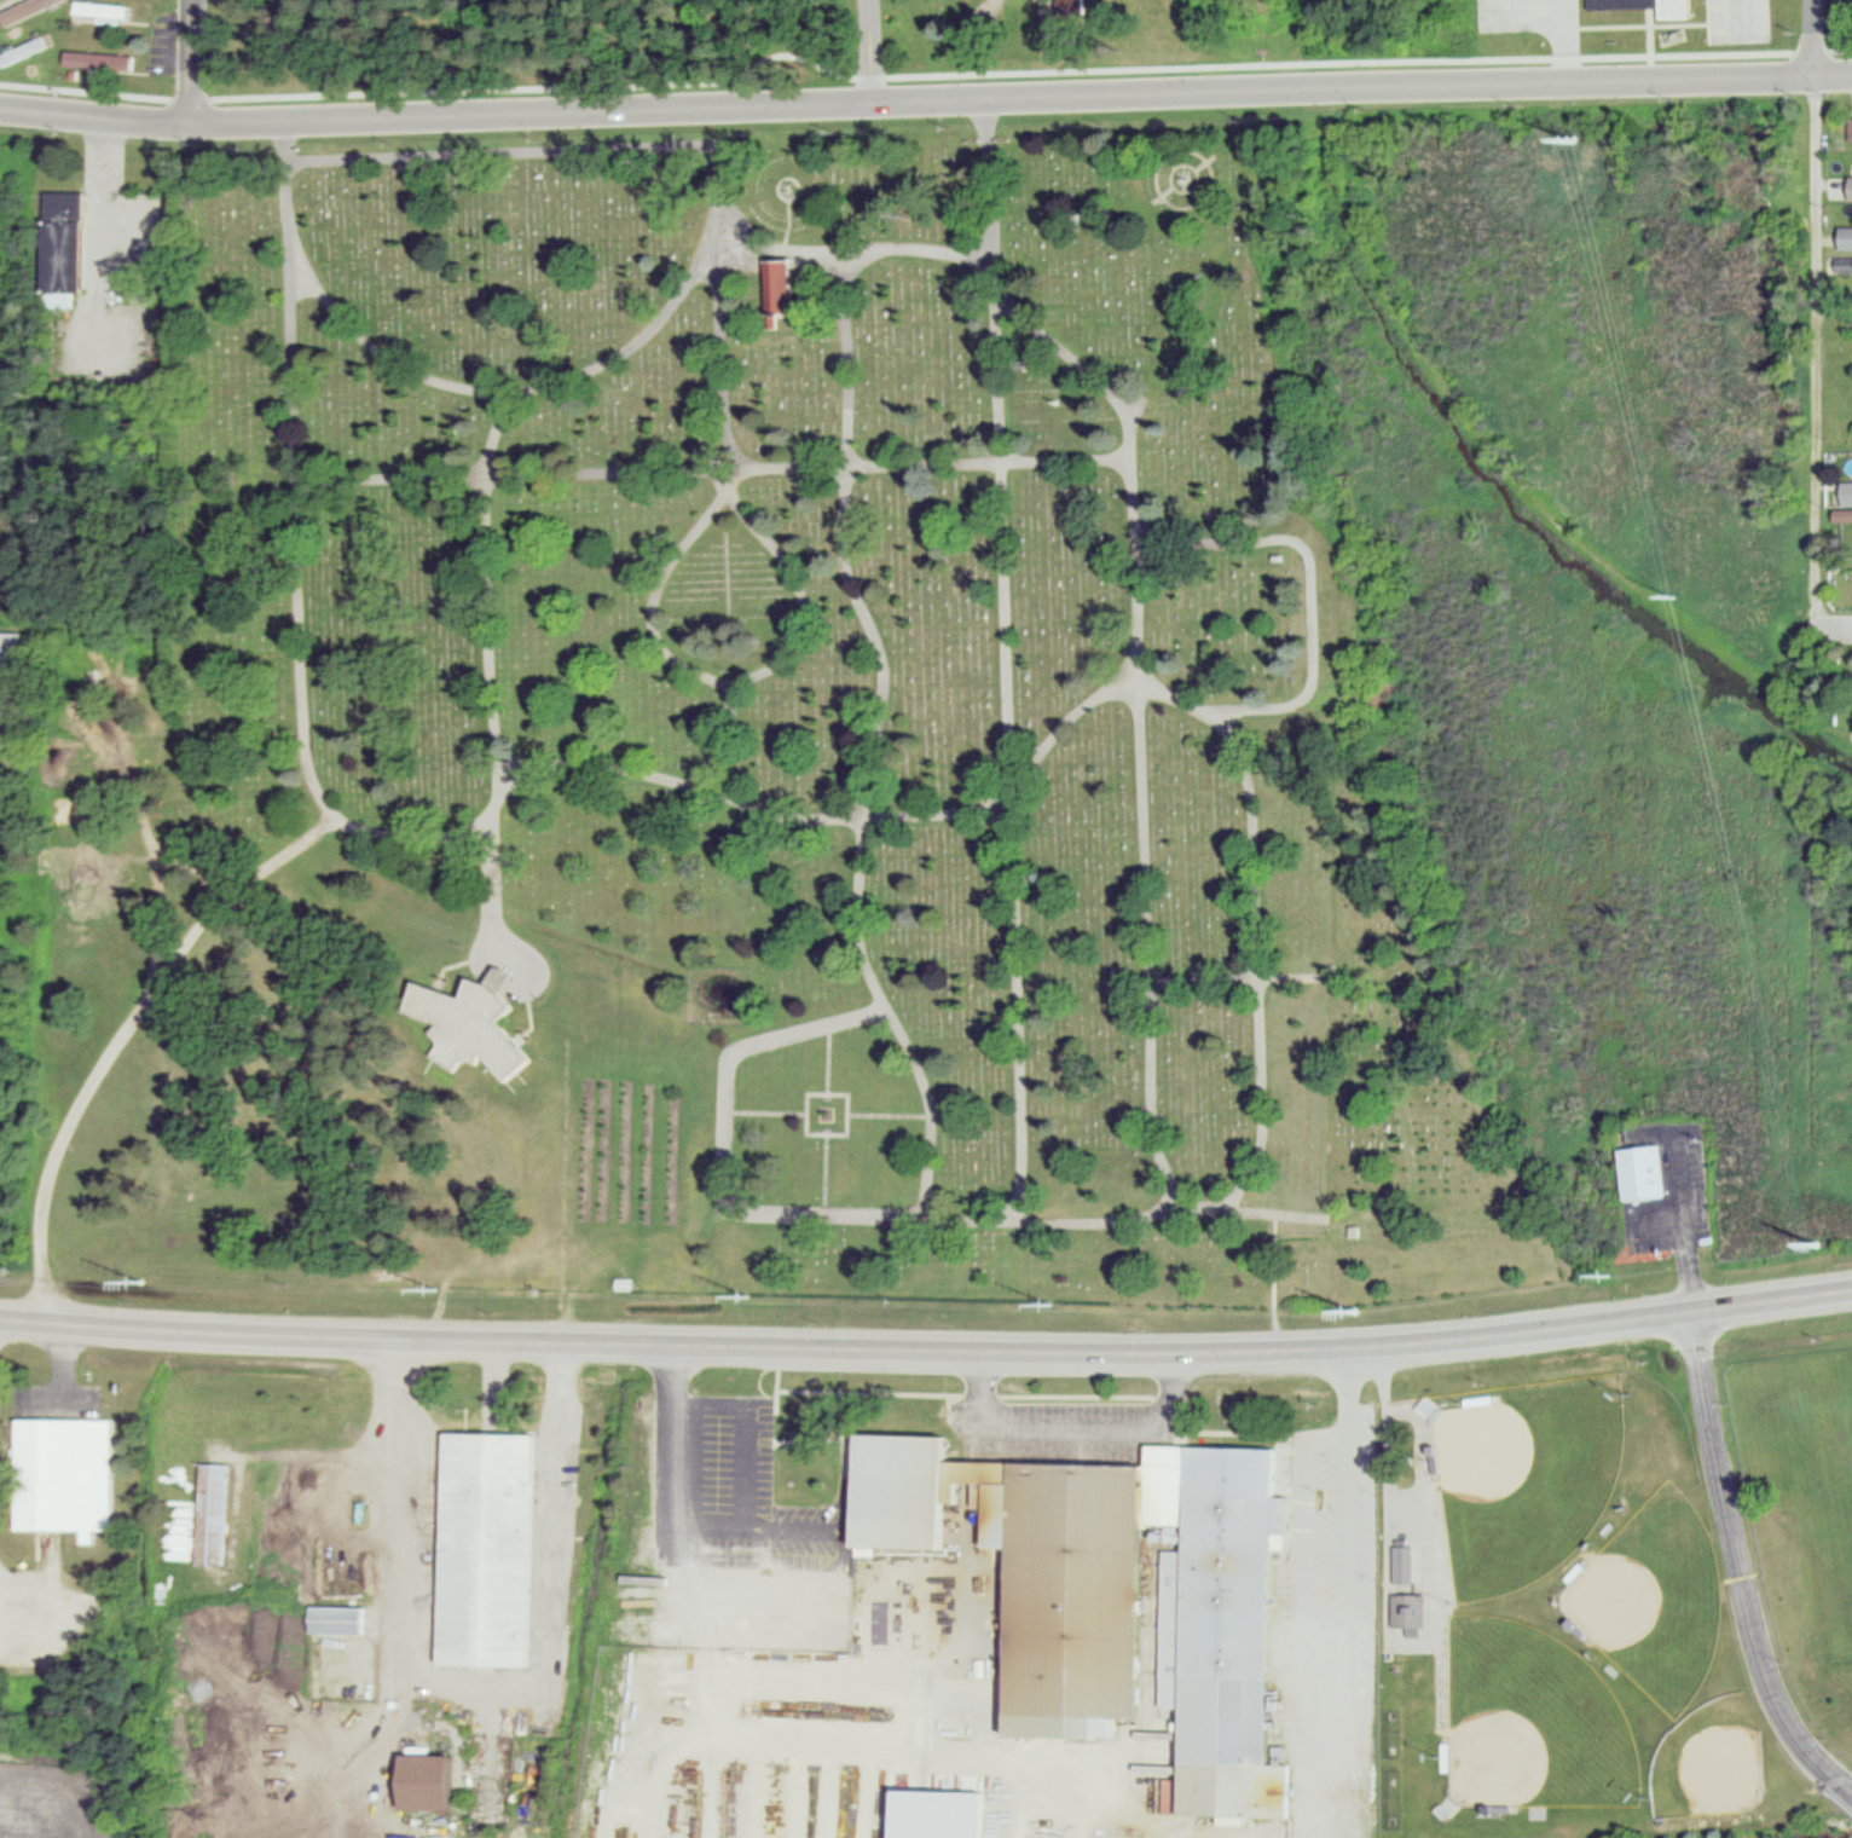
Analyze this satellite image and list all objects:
building: (1654, 6)
building: (104, 11)
road: (1815, 39)
park: (766, 47)
road: (925, 47)
road: (190, 60)
building: (100, 62)
road: (925, 102)
road: (498, 156)
road: (990, 180)
building: (1846, 238)
building: (66, 247)
road: (781, 254)
building: (1850, 266)
building: (782, 287)
road: (1815, 354)
road: (724, 360)
road: (565, 380)
railway: (1482, 443)
road: (713, 472)
road: (729, 499)
building: (1846, 504)
road: (490, 586)
road: (857, 594)
road: (1833, 631)
building: (12, 649)
road: (1159, 693)
park: (716, 740)
road: (730, 742)
road: (418, 837)
road: (1147, 944)
road: (1244, 979)
park: (1435, 995)
building: (474, 1027)
road: (122, 1038)
road: (724, 1149)
building: (1648, 1173)
road: (1274, 1212)
road: (1274, 1282)
road: (927, 1349)
road: (491, 1382)
road: (475, 1421)
road: (1077, 1424)
road: (740, 1460)
building: (65, 1472)
park: (1524, 1478)
building: (215, 1513)
road: (792, 1527)
building: (491, 1545)
building: (1401, 1561)
road: (1740, 1567)
building: (1119, 1588)
park: (1654, 1600)
building: (1408, 1609)
road: (56, 1612)
road: (1350, 1681)
road: (850, 1683)
road: (475, 1693)
park: (1530, 1721)
road: (782, 1741)
park: (1712, 1761)
road: (1844, 1778)
building: (439, 1780)
road: (51, 1794)
building: (944, 1811)
building: (1117, 1836)

